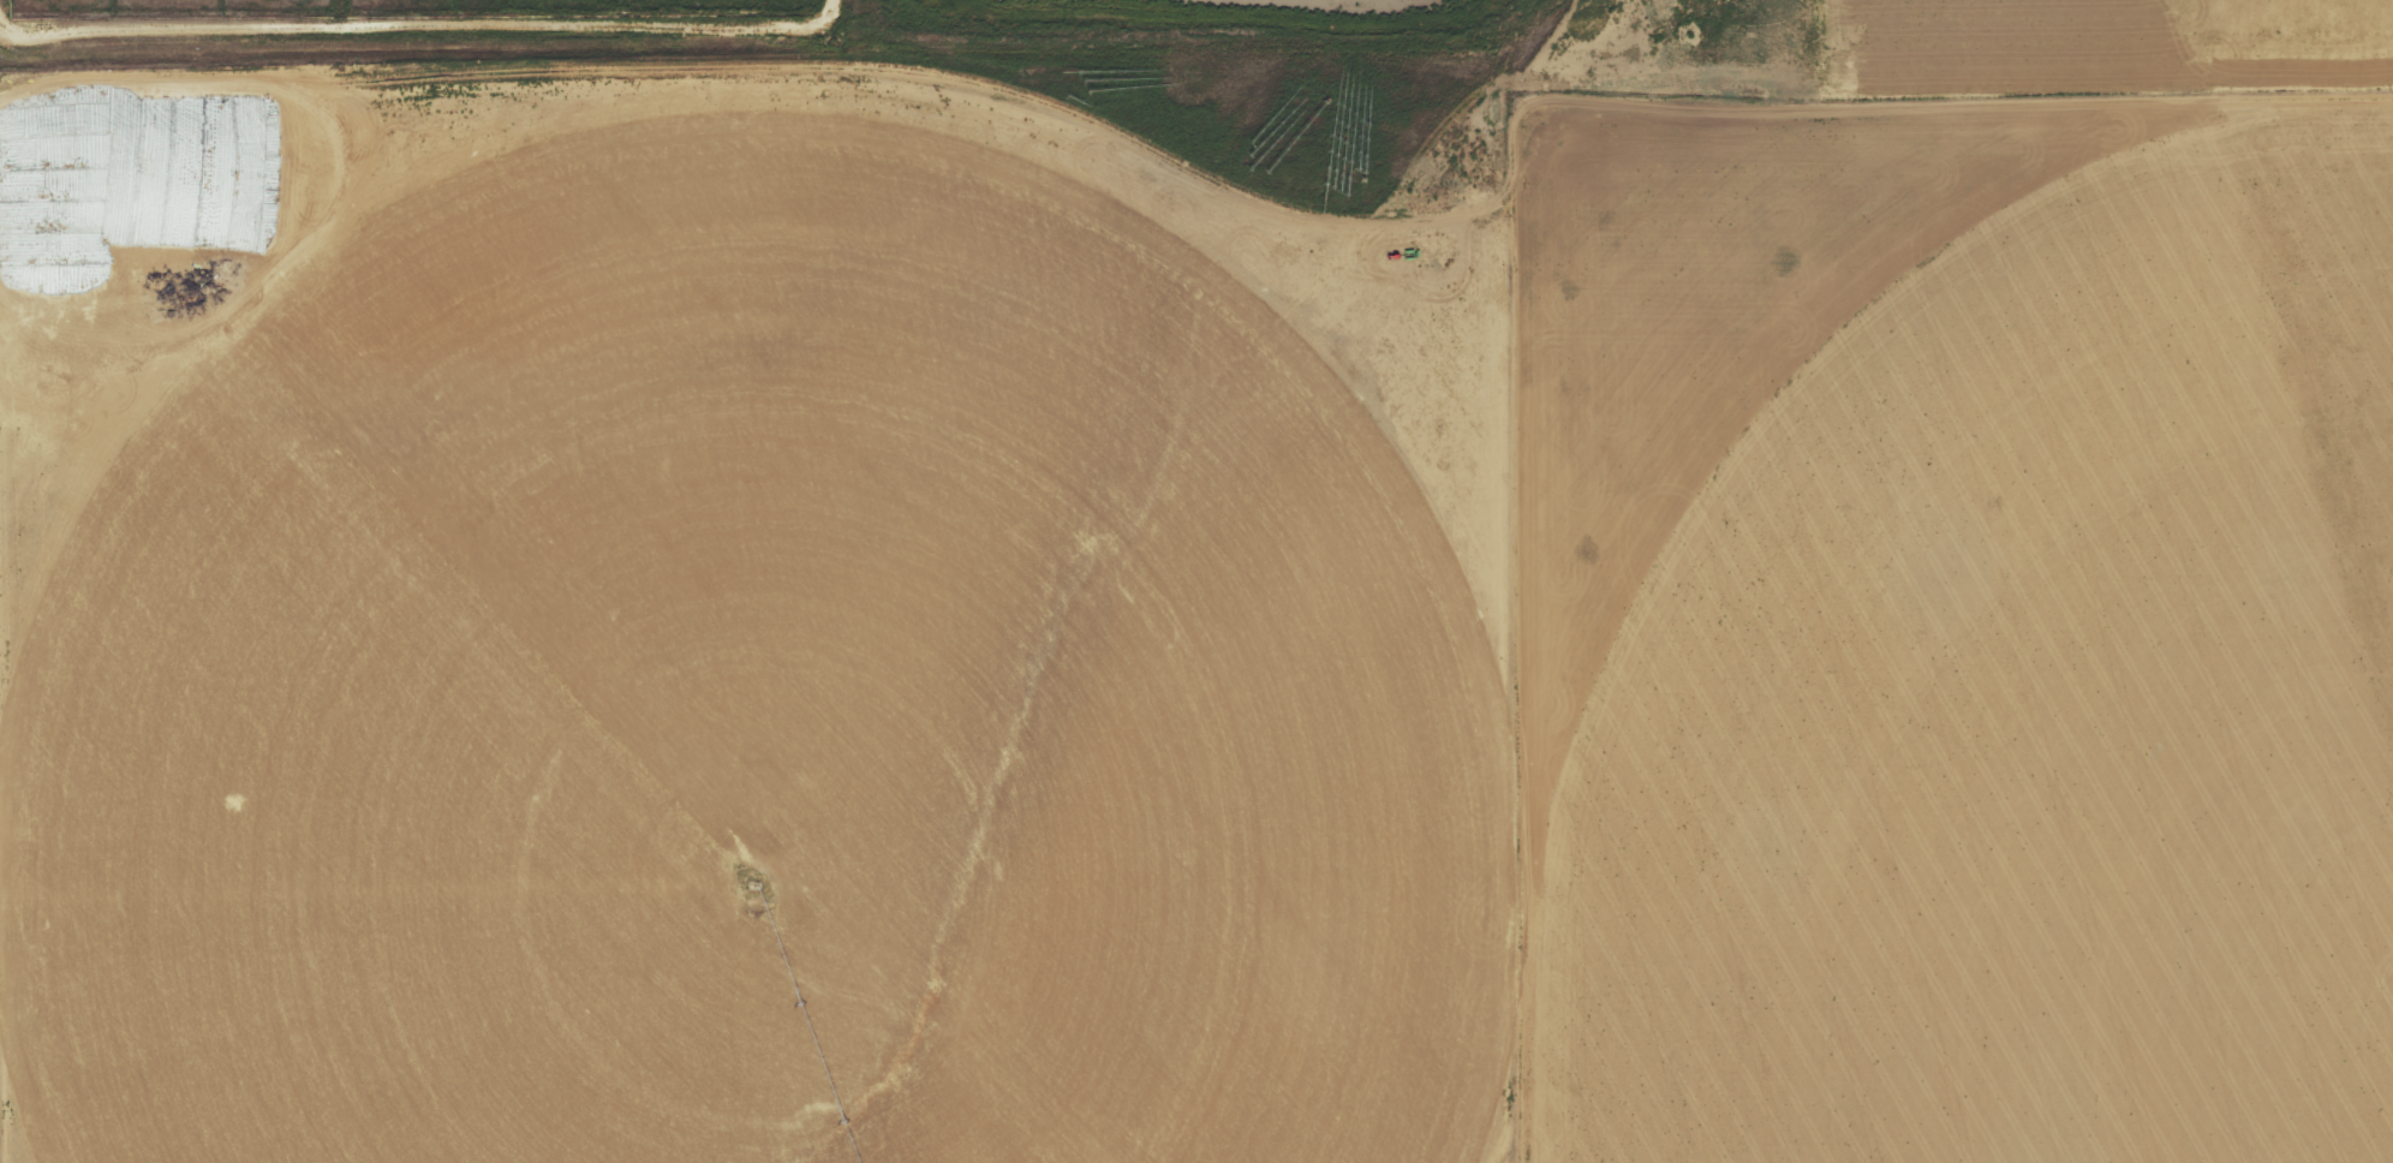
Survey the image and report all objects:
road: (440, 44)
road: (2000, 95)

